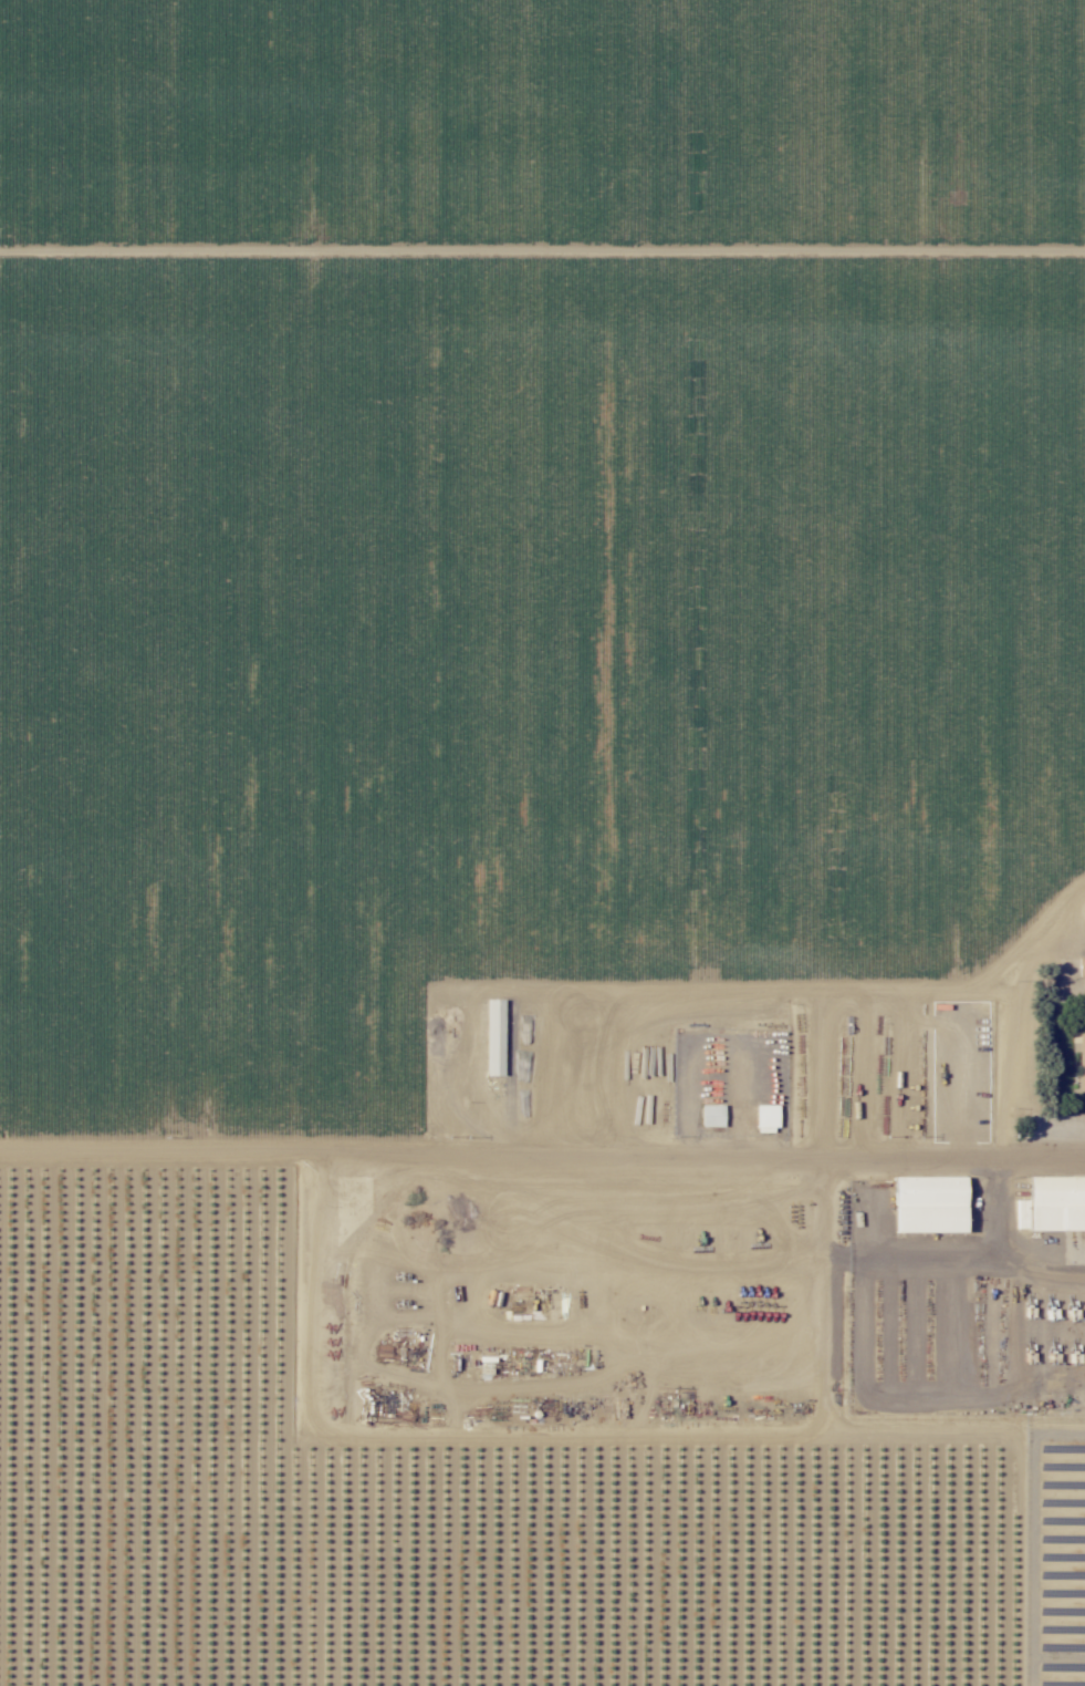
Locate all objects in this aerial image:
crop: (495, 492)
crop: (787, 989)
crop: (194, 1157)
road: (542, 1157)
crop: (729, 1157)
building: (1050, 1200)
building: (922, 1201)
crop: (543, 1427)

